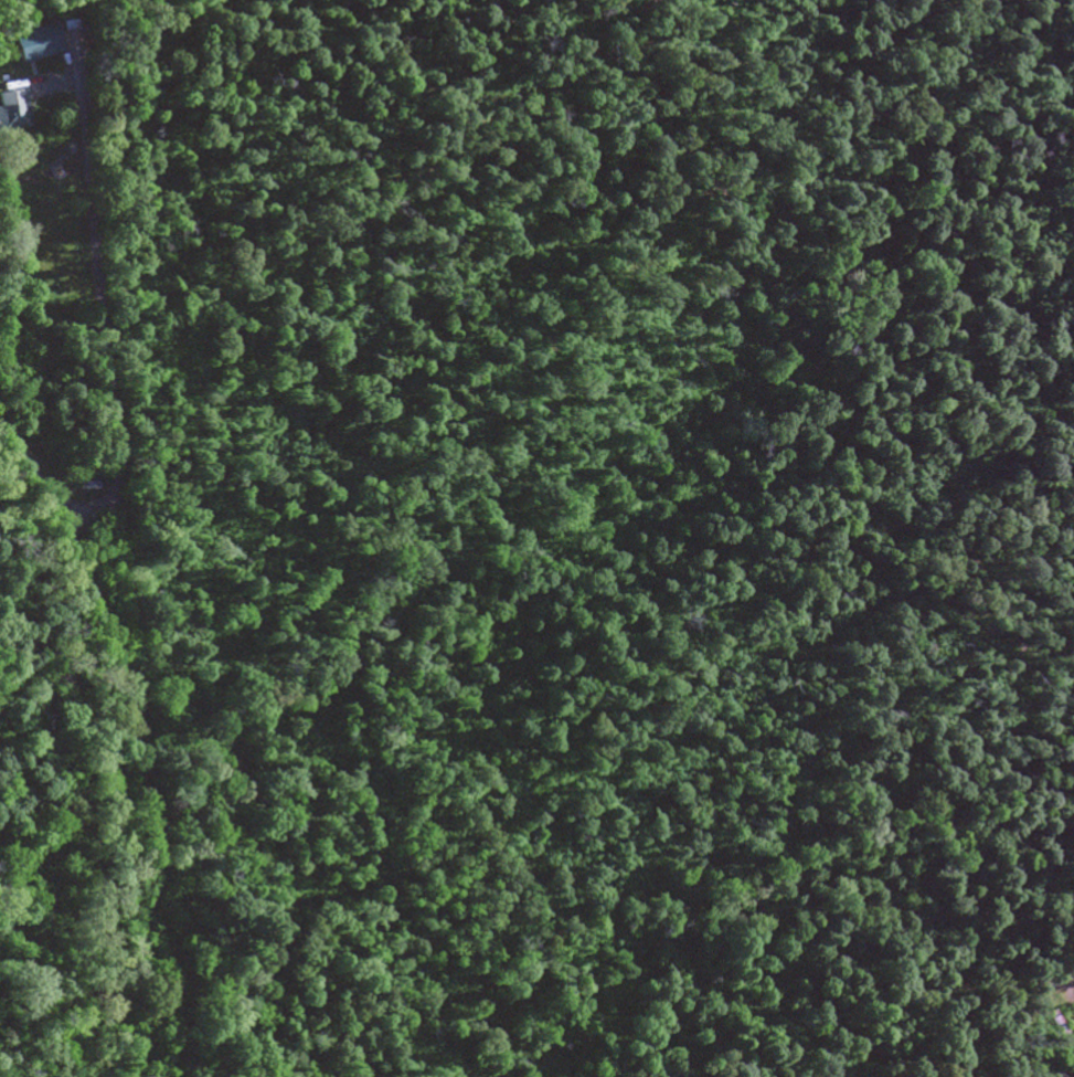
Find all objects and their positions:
building: (40, 41)
building: (11, 110)
road: (87, 505)
road: (76, 566)
road: (127, 572)
road: (1068, 973)
building: (1052, 1032)

